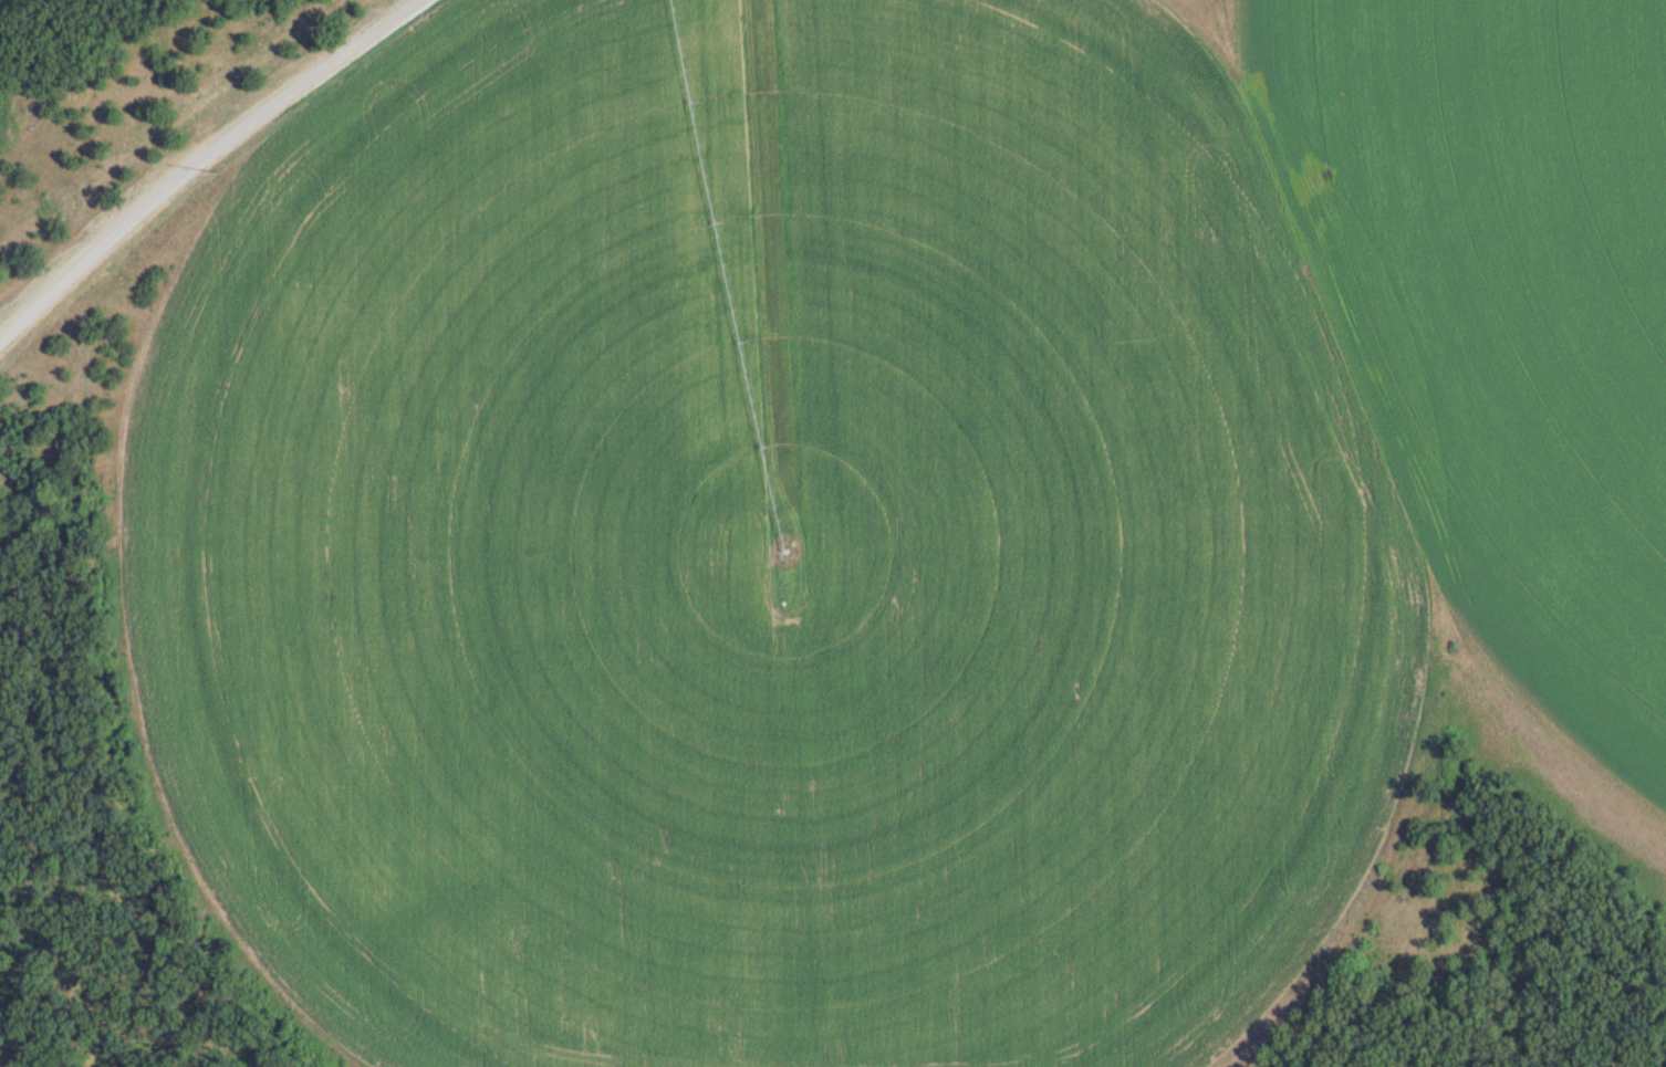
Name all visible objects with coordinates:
road: (200, 160)
wastewater plant: (833, 533)

